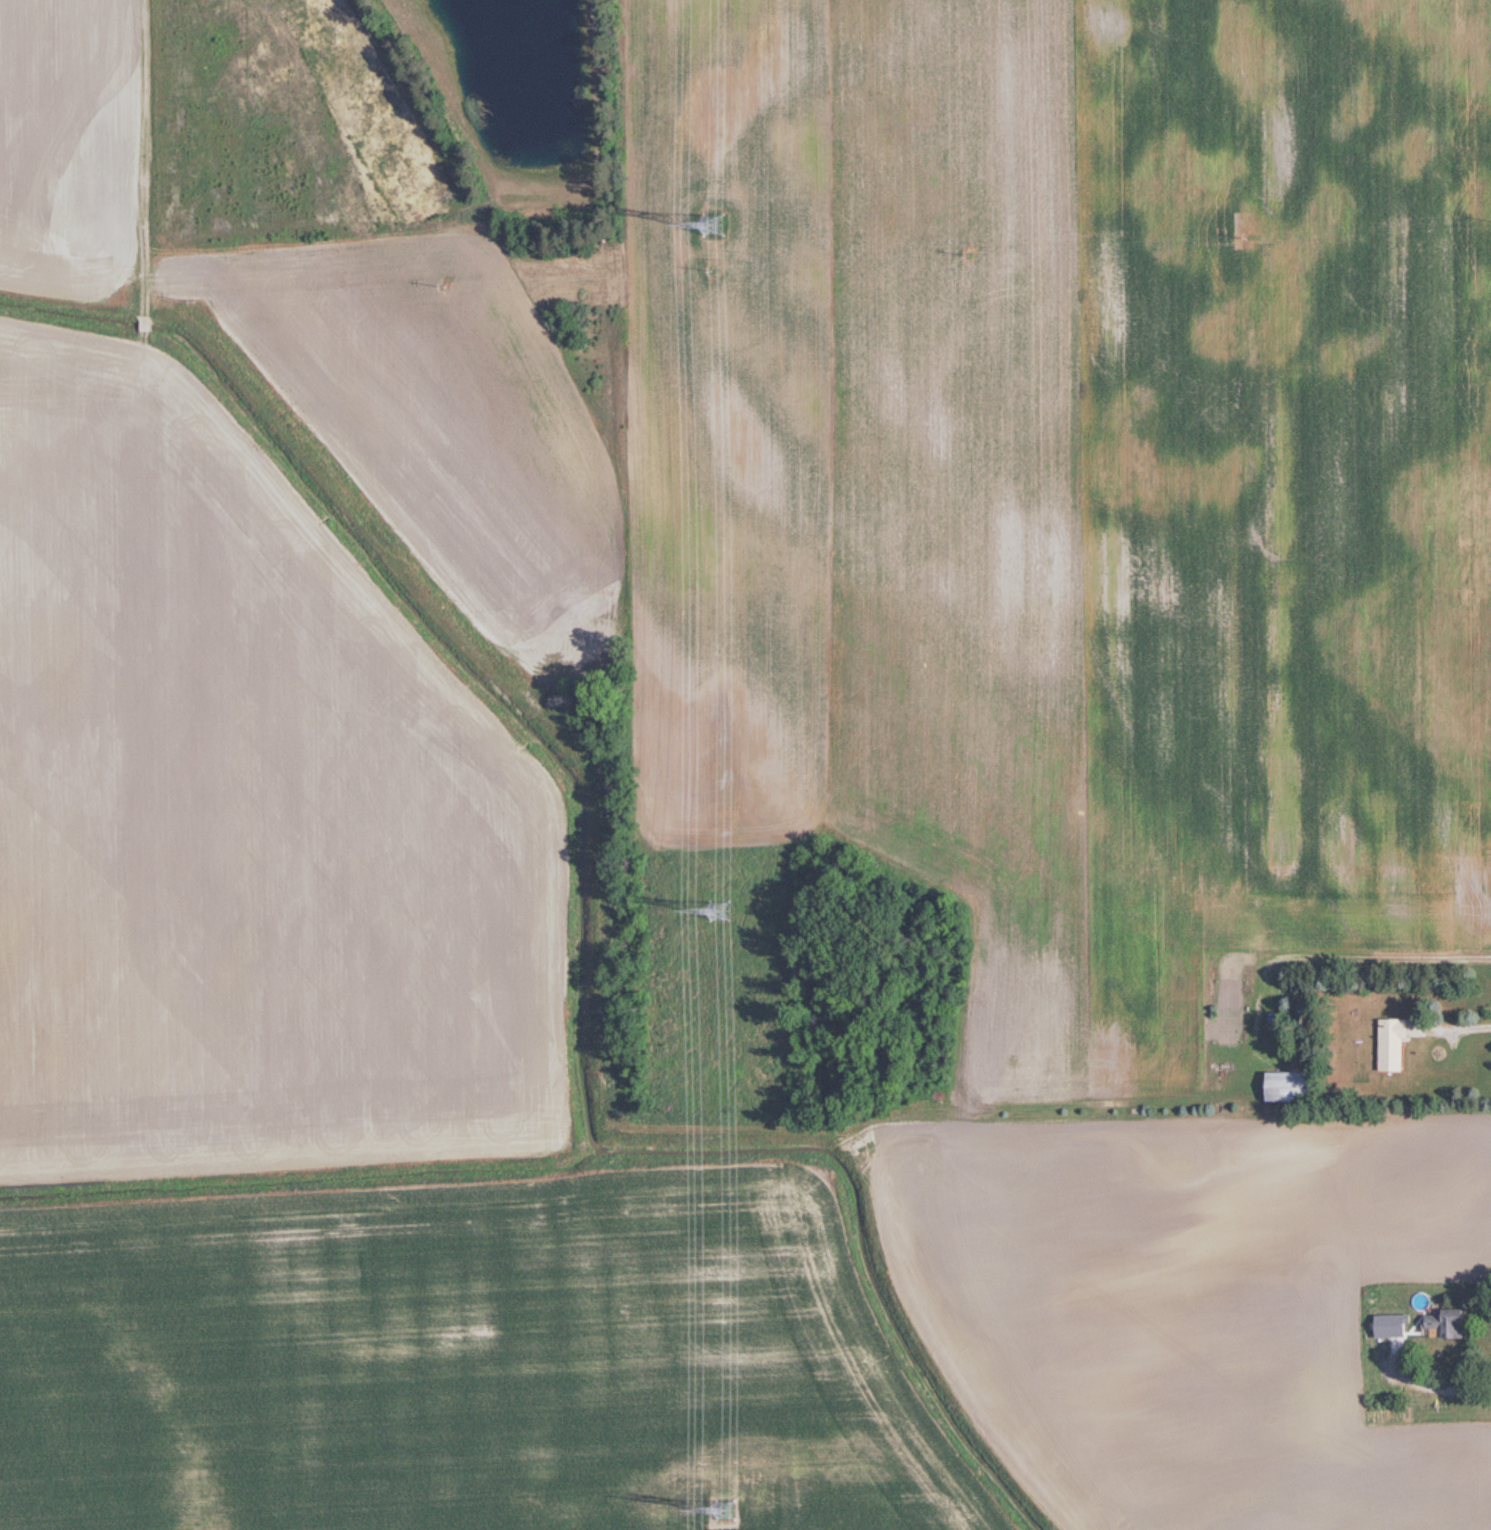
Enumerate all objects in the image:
power tower: (713, 225)
power tower: (725, 912)
building: (1398, 1044)
building: (1297, 1086)
building: (1451, 1318)
building: (1397, 1320)
road: (1426, 1382)
power tower: (728, 1510)

